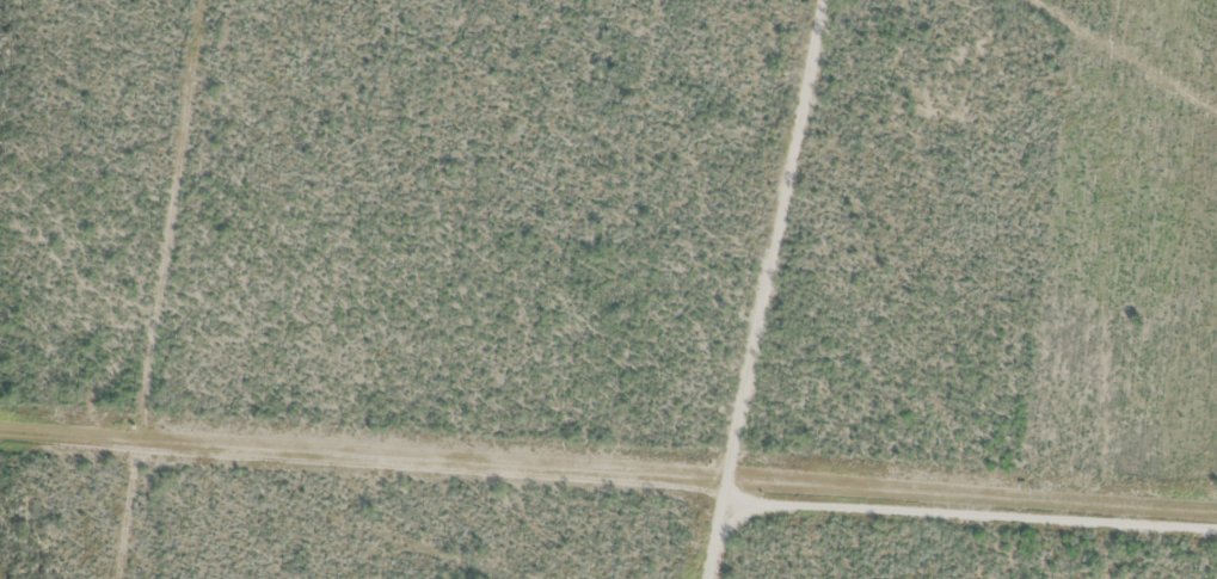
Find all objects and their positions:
road: (1099, 288)

